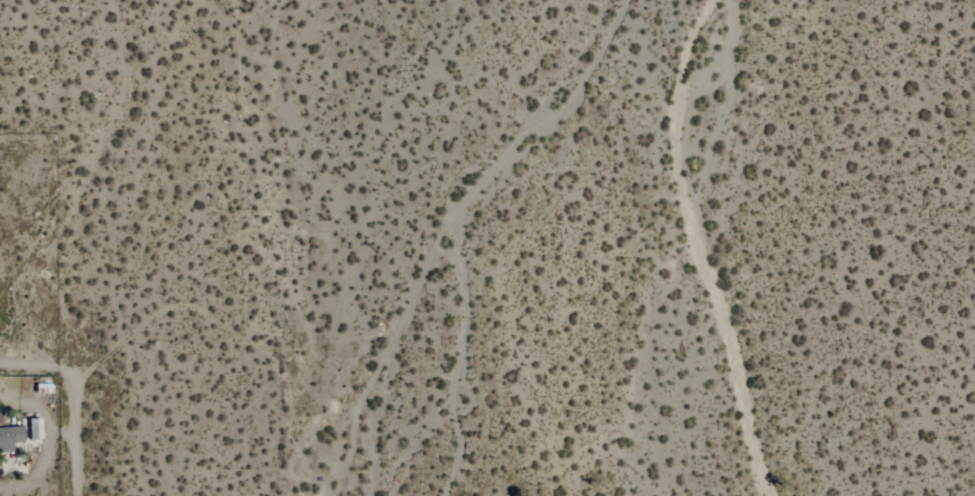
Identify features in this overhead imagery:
road: (72, 399)

